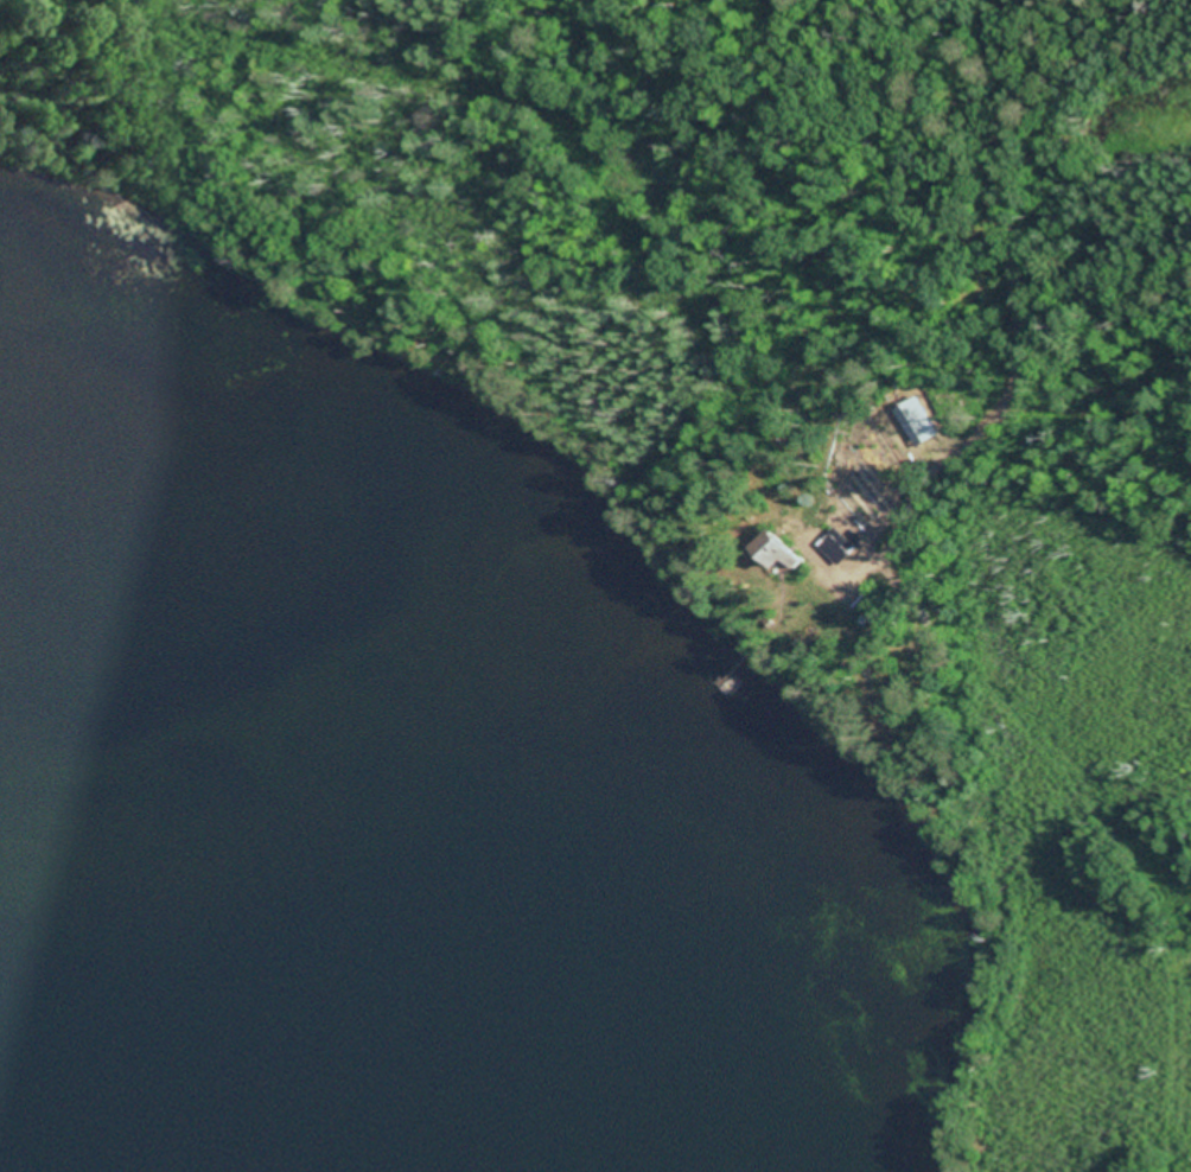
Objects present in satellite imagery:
building: (772, 556)

